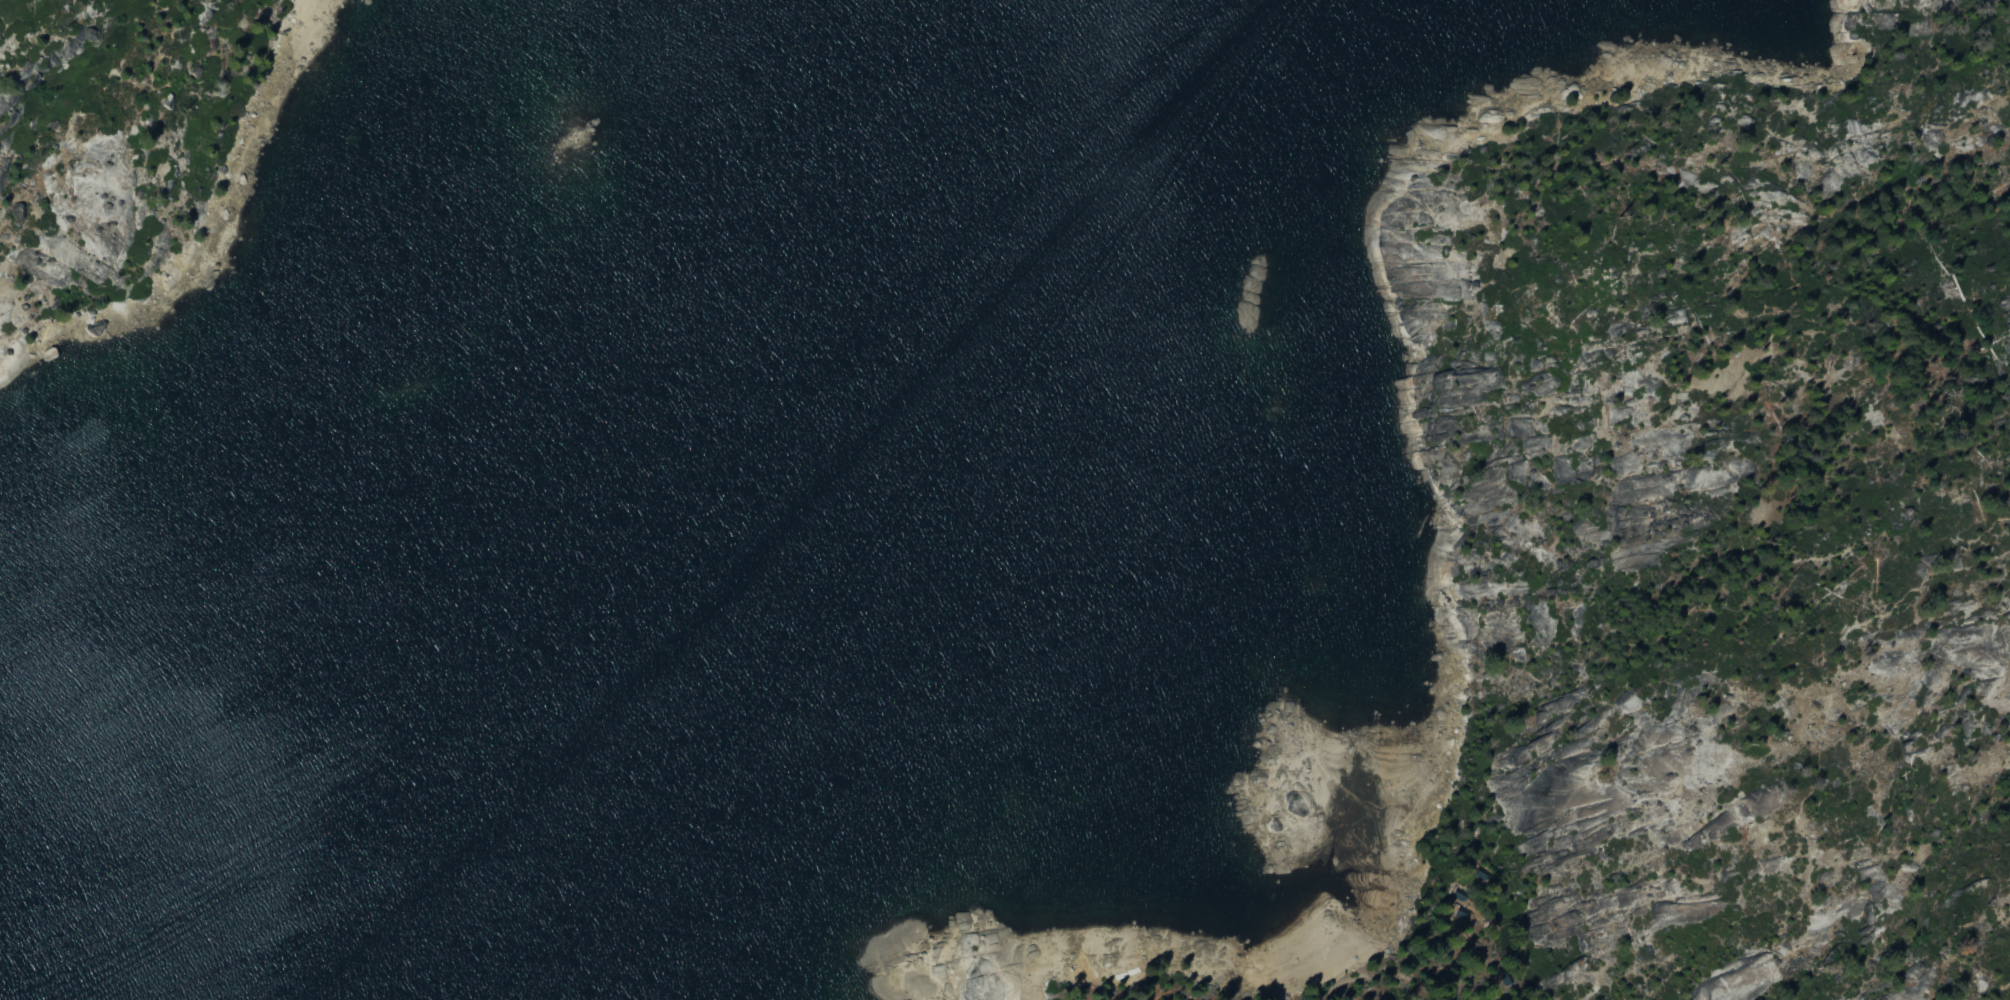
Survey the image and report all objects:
pier: (1305, 948)
pier: (1261, 976)
flagpole: (982, 989)
flagpole: (983, 995)
flagpole: (983, 999)

